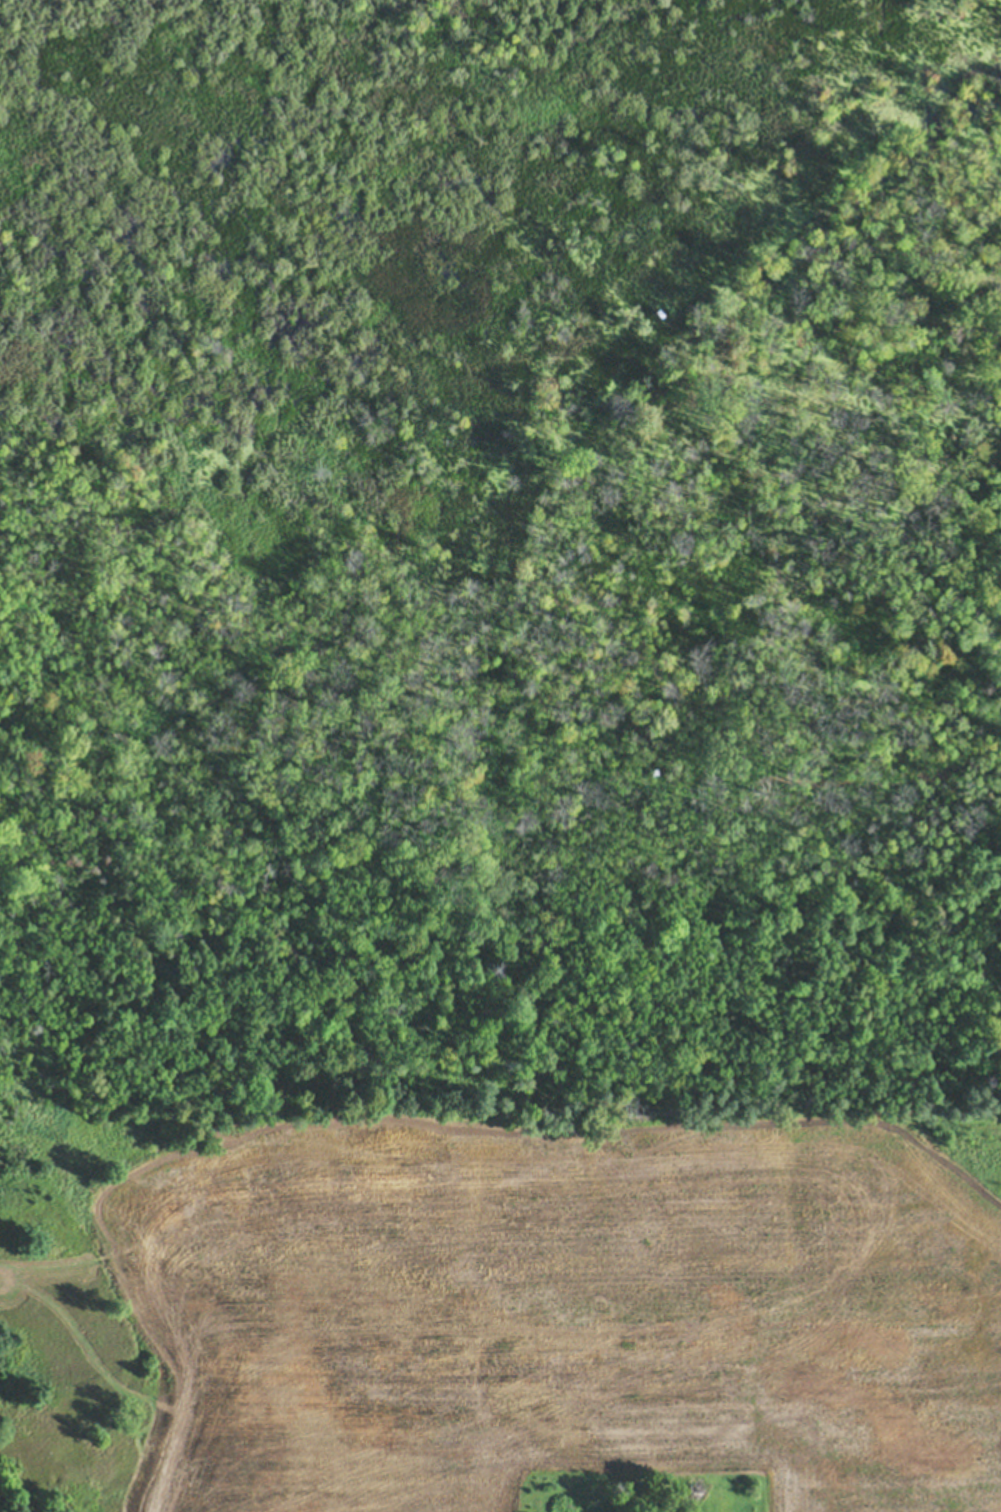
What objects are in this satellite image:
building: (607, 1510)

